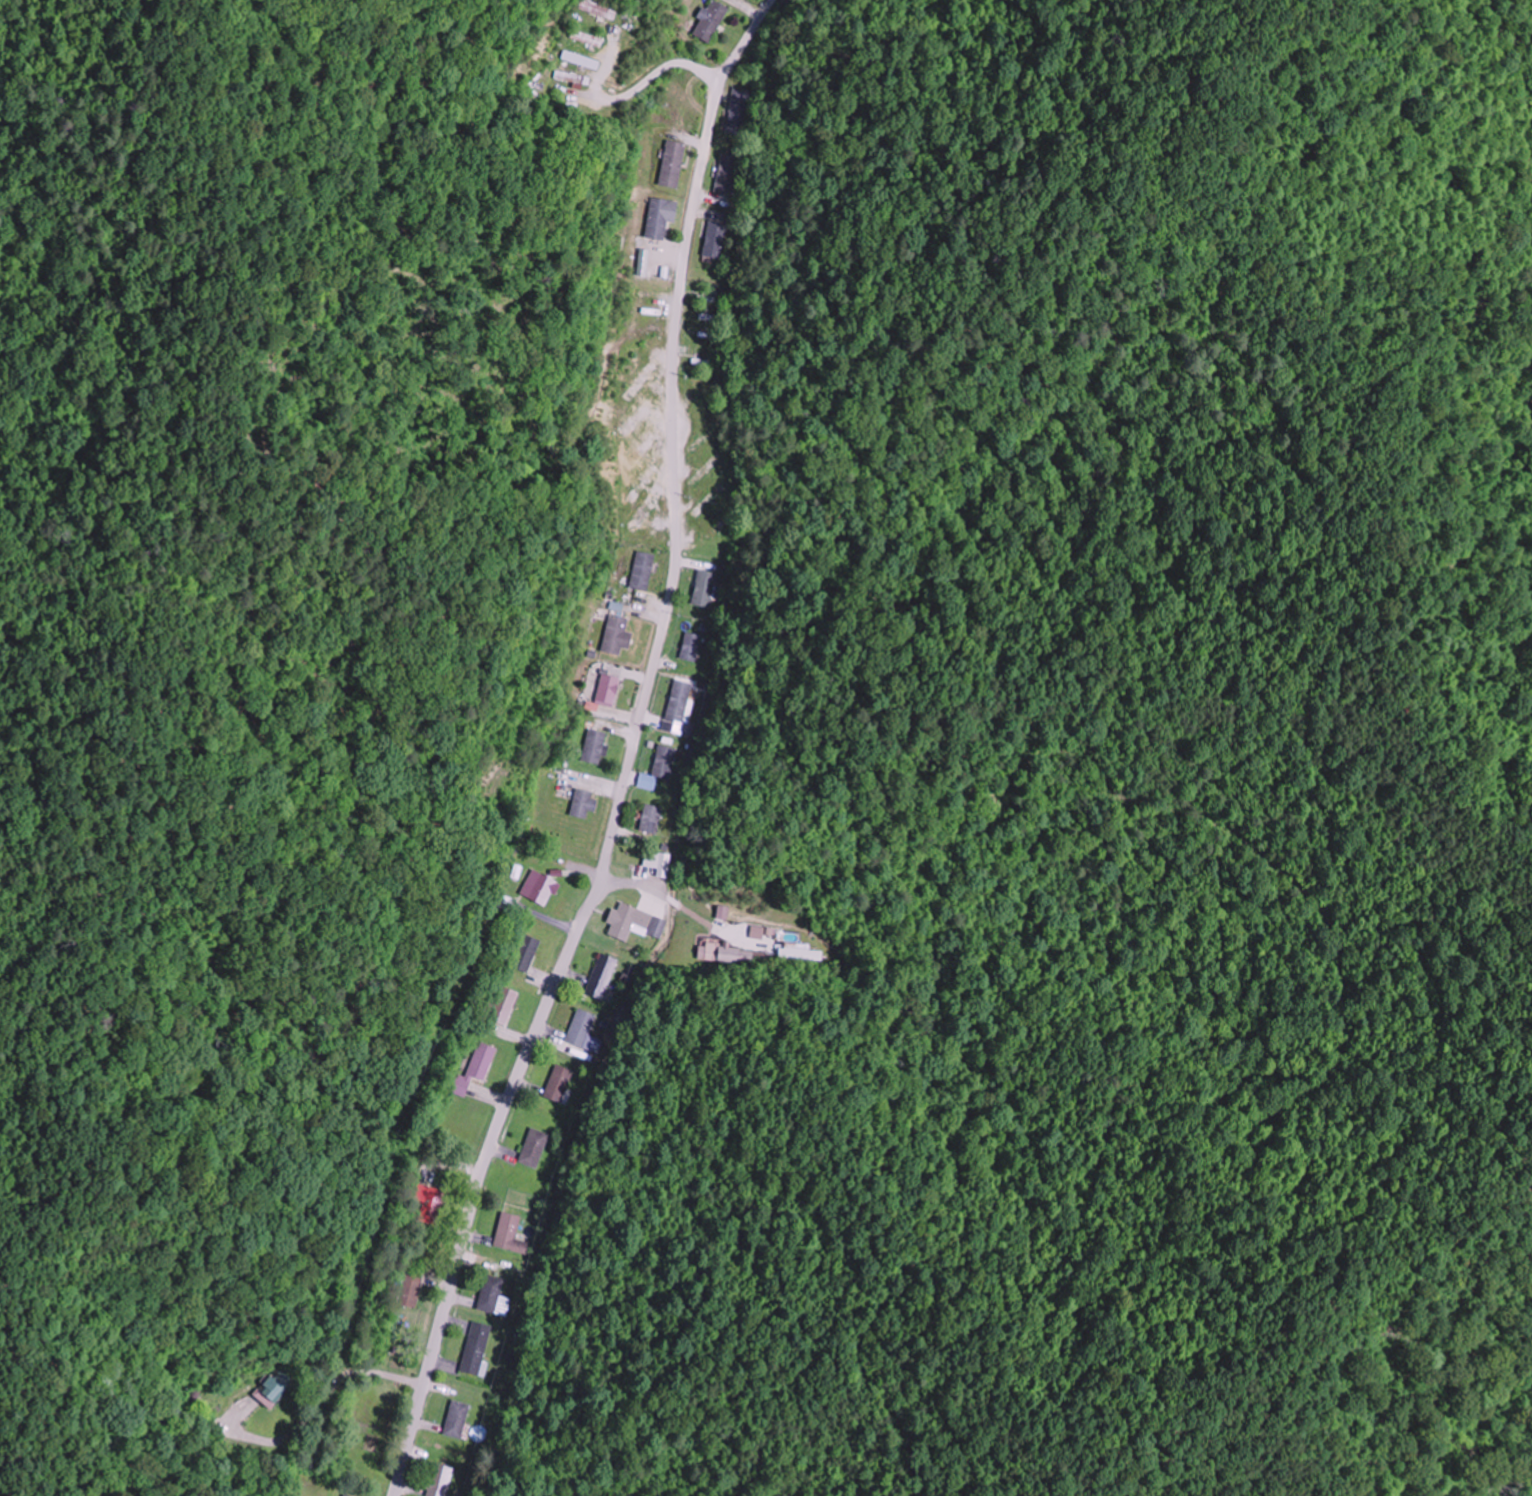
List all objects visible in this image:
building: (710, 21)
building: (587, 38)
building: (579, 59)
building: (572, 78)
building: (740, 113)
building: (672, 163)
building: (728, 174)
building: (657, 218)
building: (715, 240)
building: (641, 322)
building: (638, 354)
building: (640, 382)
building: (699, 403)
building: (638, 417)
building: (705, 438)
building: (641, 451)
building: (708, 469)
building: (643, 483)
building: (709, 500)
building: (644, 511)
building: (642, 570)
building: (704, 589)
building: (616, 636)
building: (691, 647)
building: (607, 690)
building: (679, 701)
building: (594, 747)
road: (629, 757)
building: (664, 762)
building: (582, 804)
building: (651, 819)
building: (658, 862)
building: (539, 888)
road: (853, 907)
building: (634, 922)
building: (801, 952)
building: (526, 953)
building: (728, 953)
building: (601, 976)
building: (503, 1005)
building: (580, 1027)
building: (474, 1069)
building: (558, 1084)
building: (534, 1148)
building: (428, 1202)
building: (510, 1235)
building: (409, 1289)
building: (490, 1294)
building: (475, 1349)
building: (271, 1389)
building: (456, 1420)
building: (439, 1480)
building: (345, 1495)

